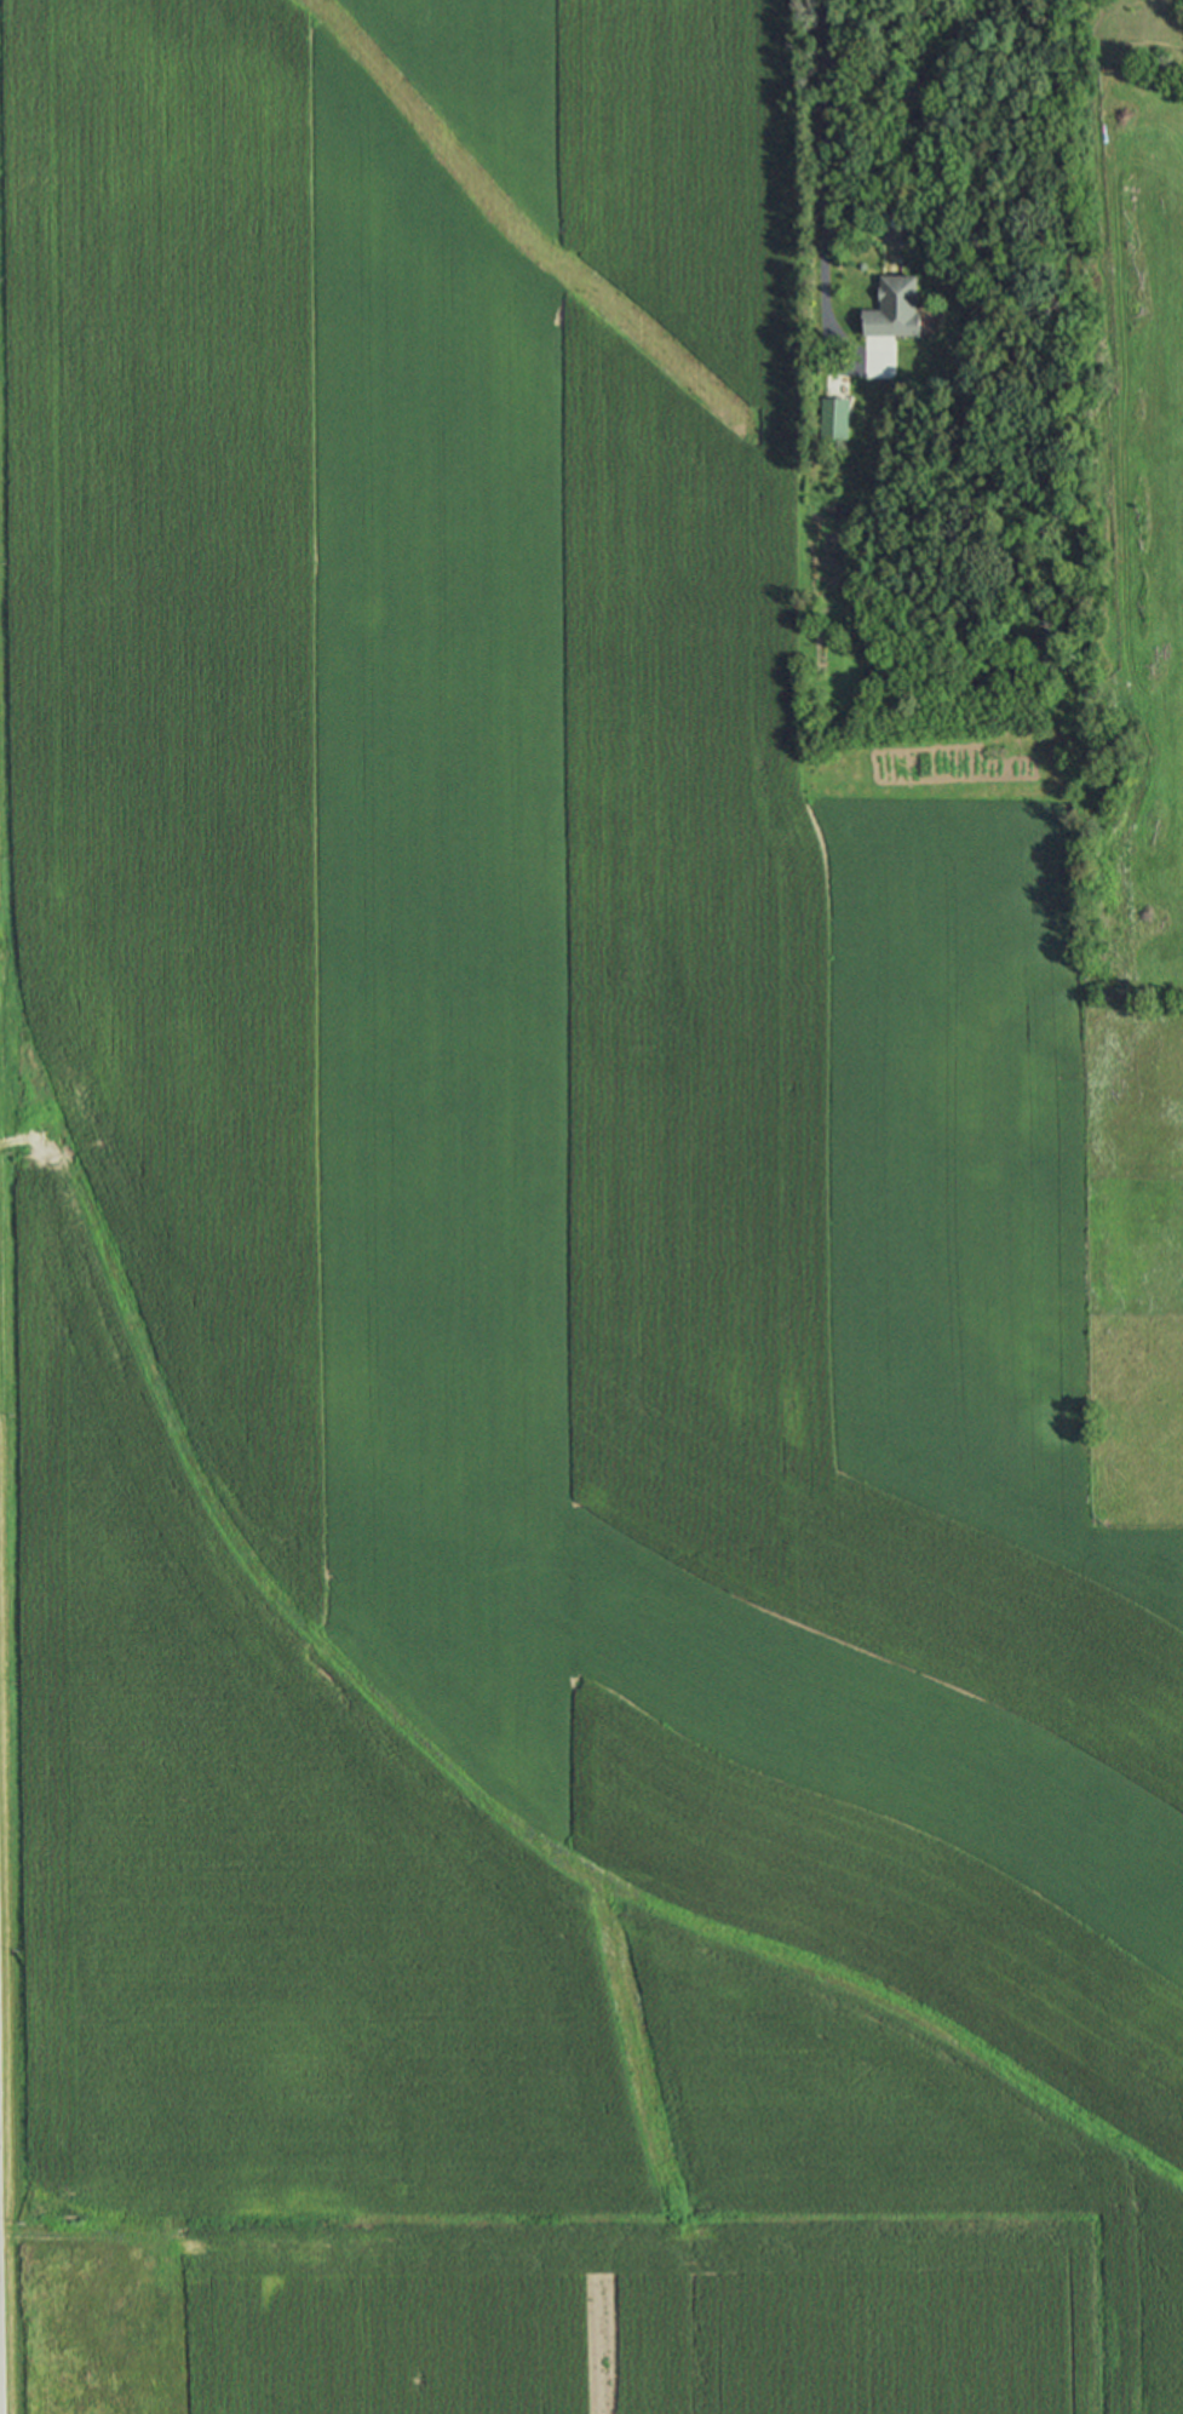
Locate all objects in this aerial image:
road: (821, 157)
building: (894, 306)
road: (845, 371)
building: (833, 417)

